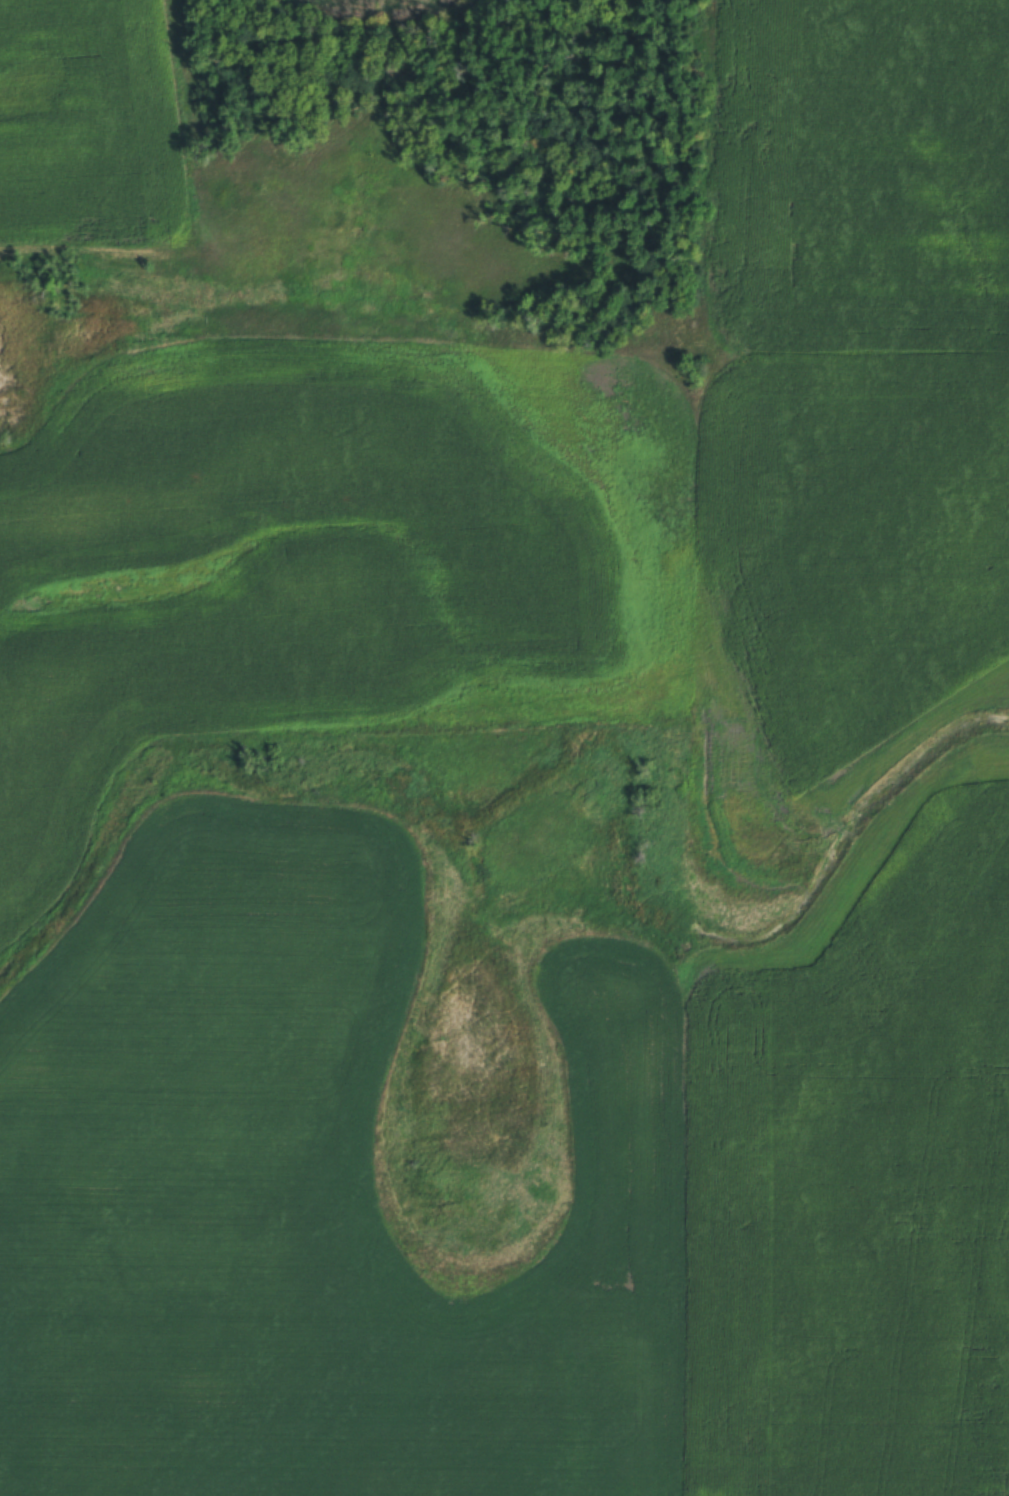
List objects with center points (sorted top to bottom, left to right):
road: (466, 342)

